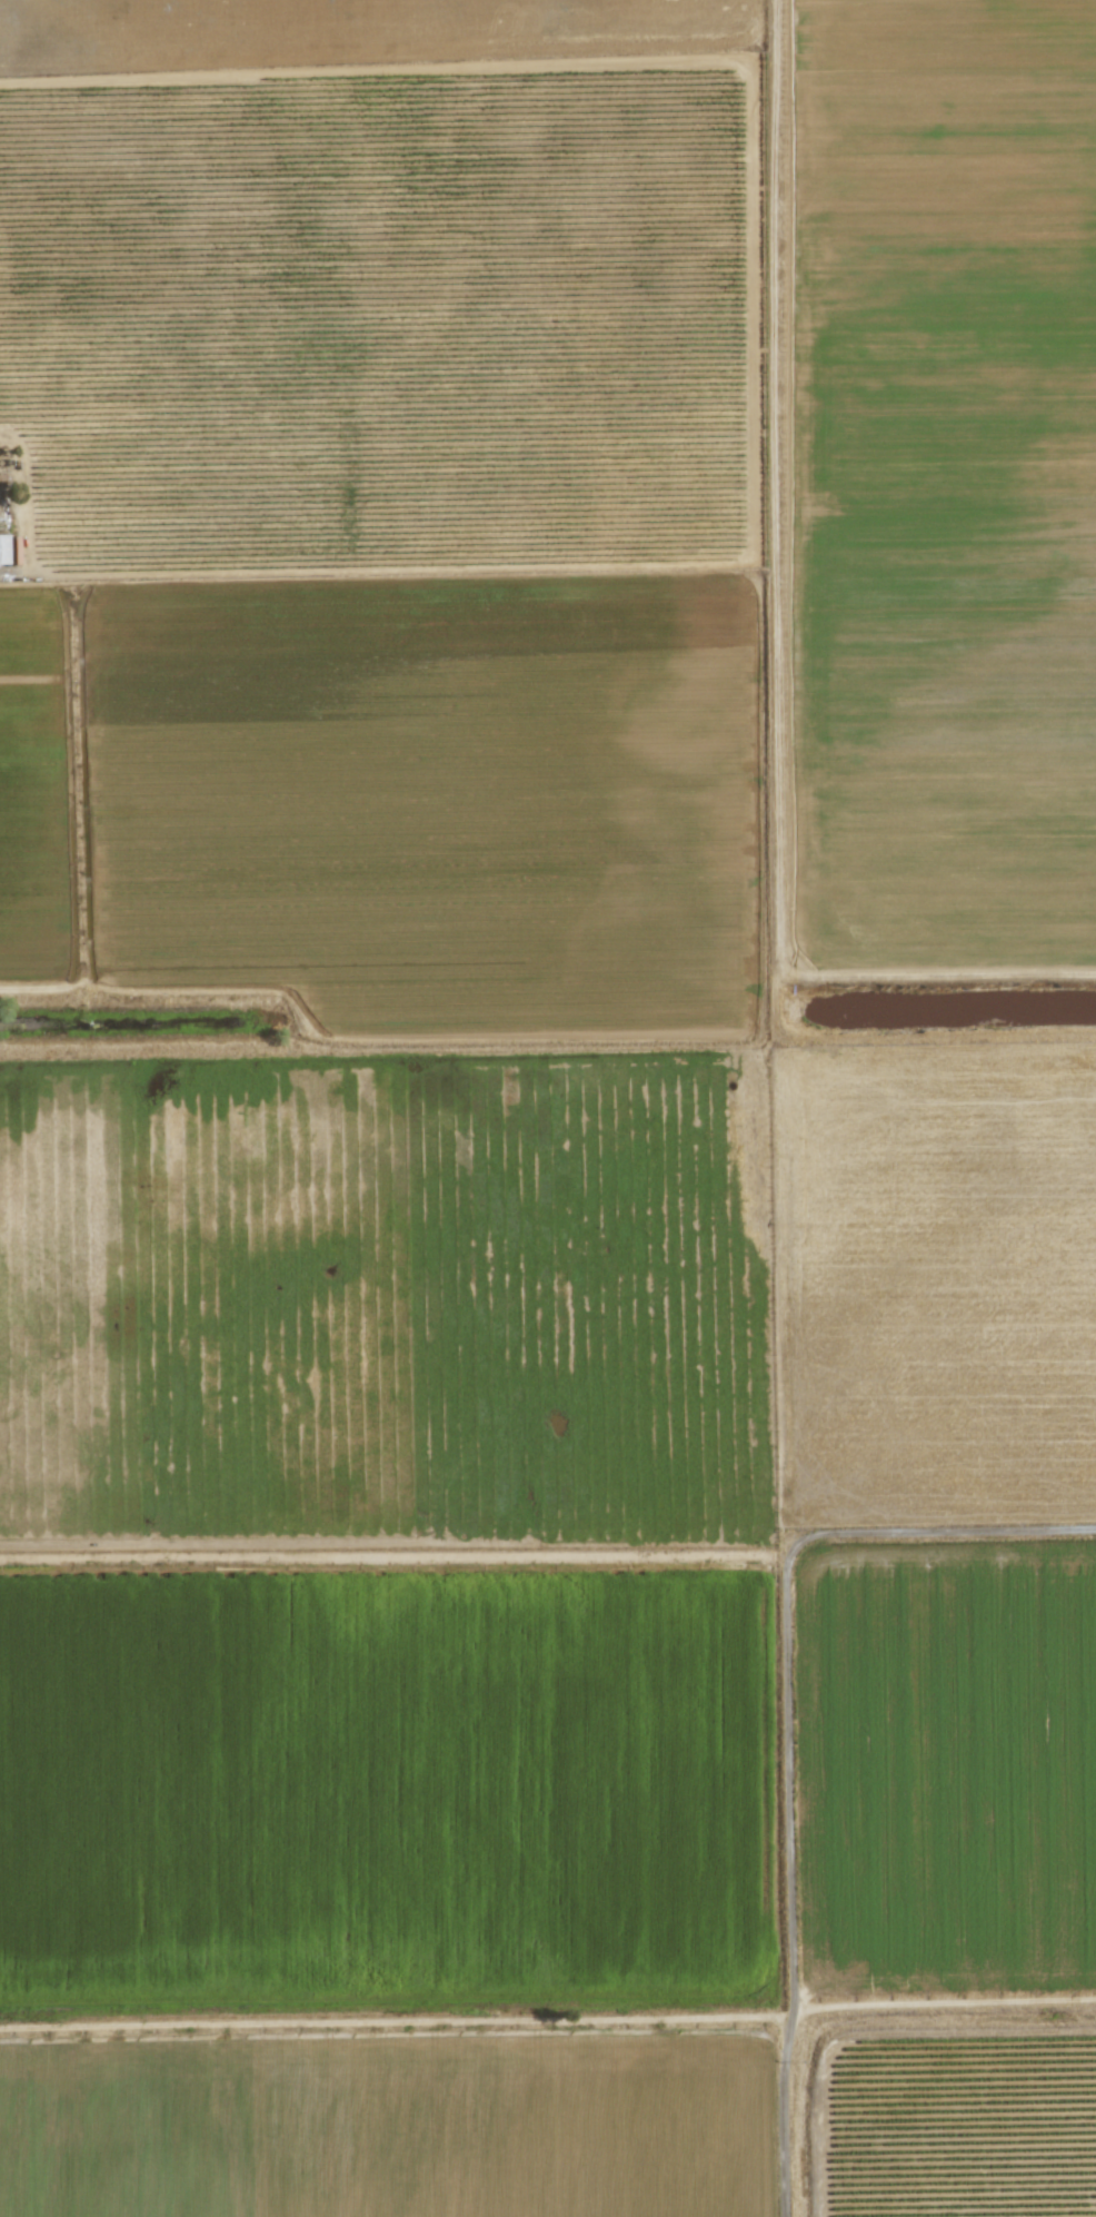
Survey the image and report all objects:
building: (3, 550)

